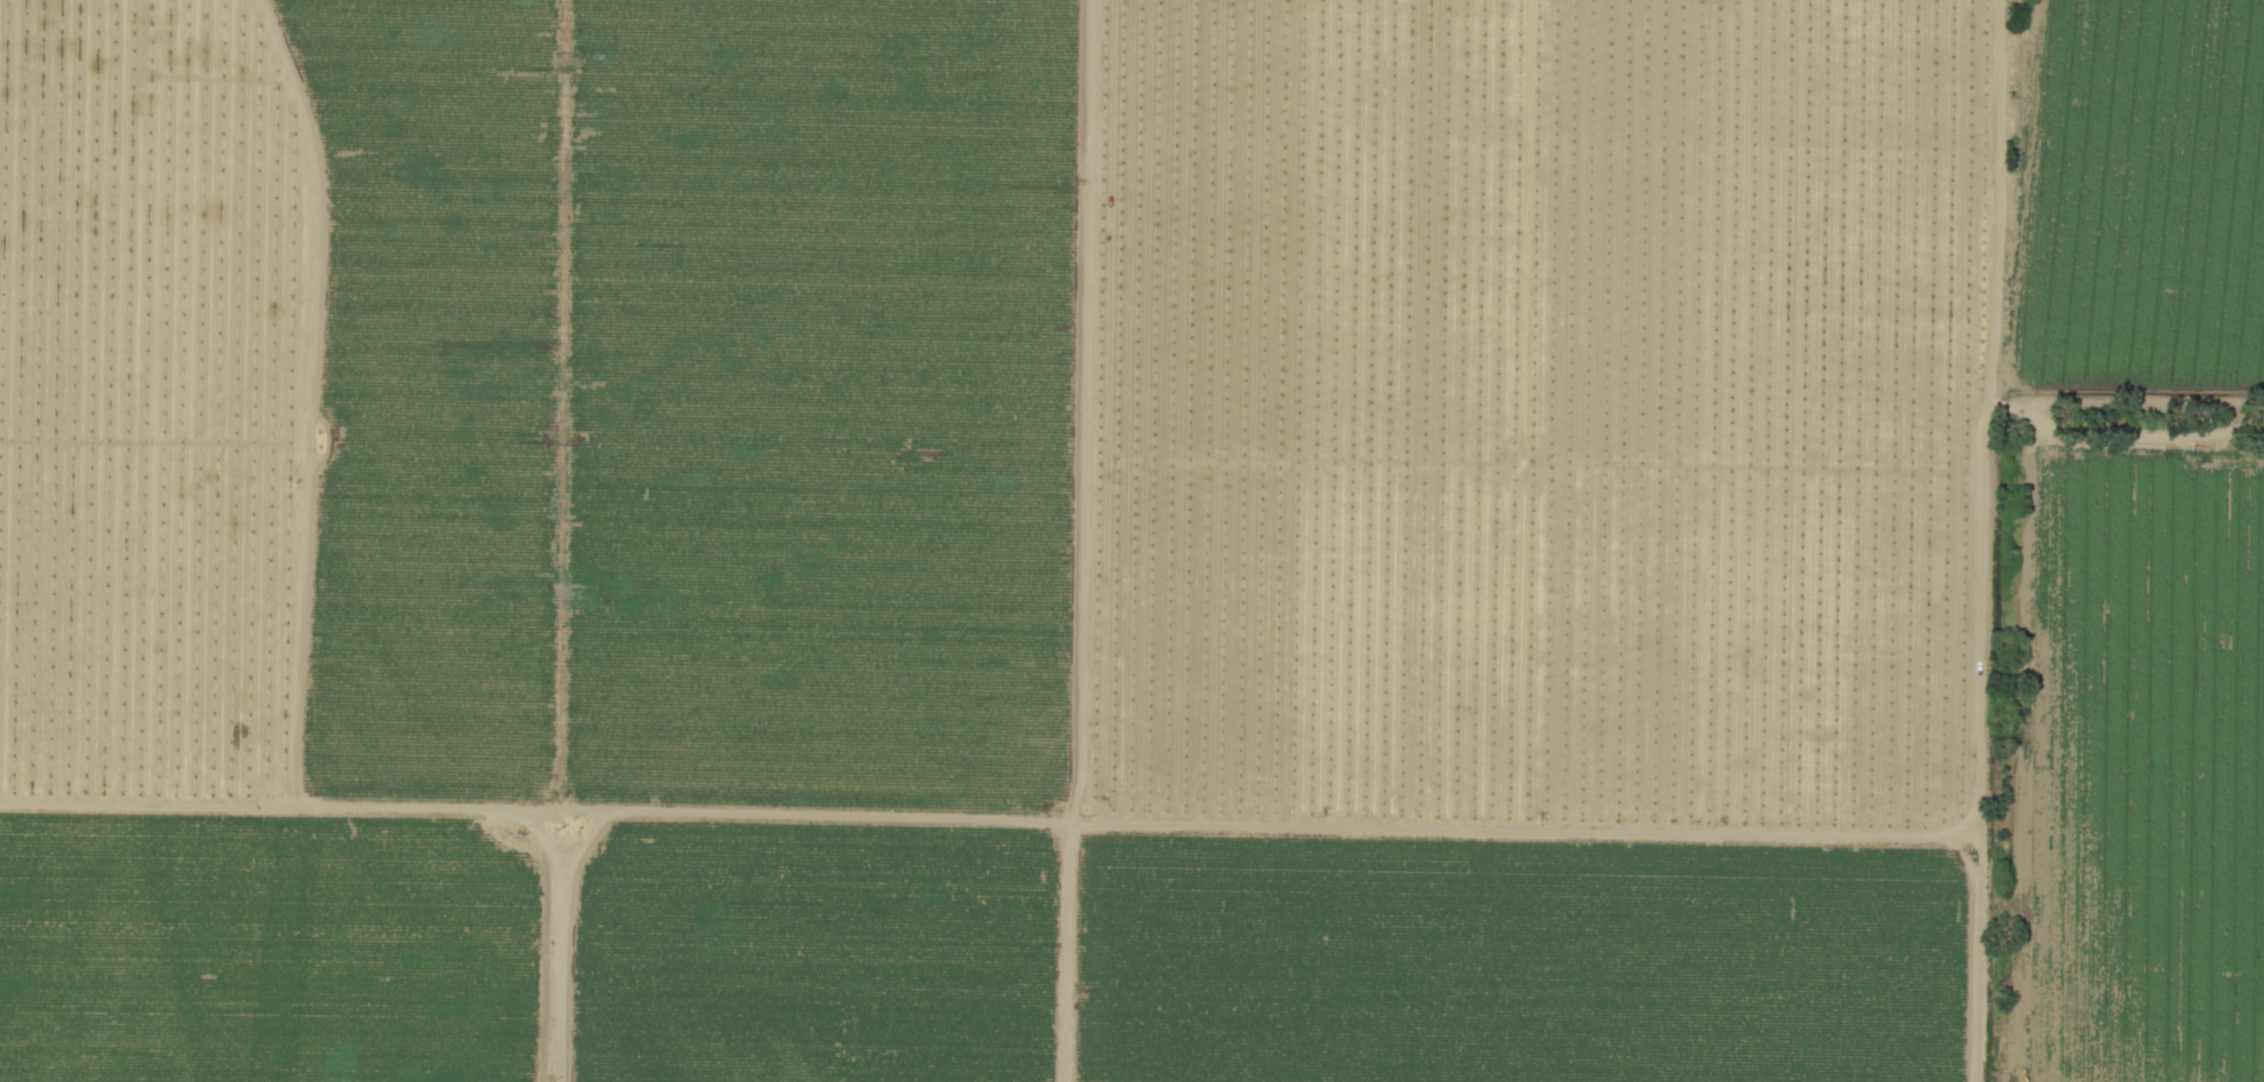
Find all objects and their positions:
road: (2020, 182)
road: (1981, 540)

